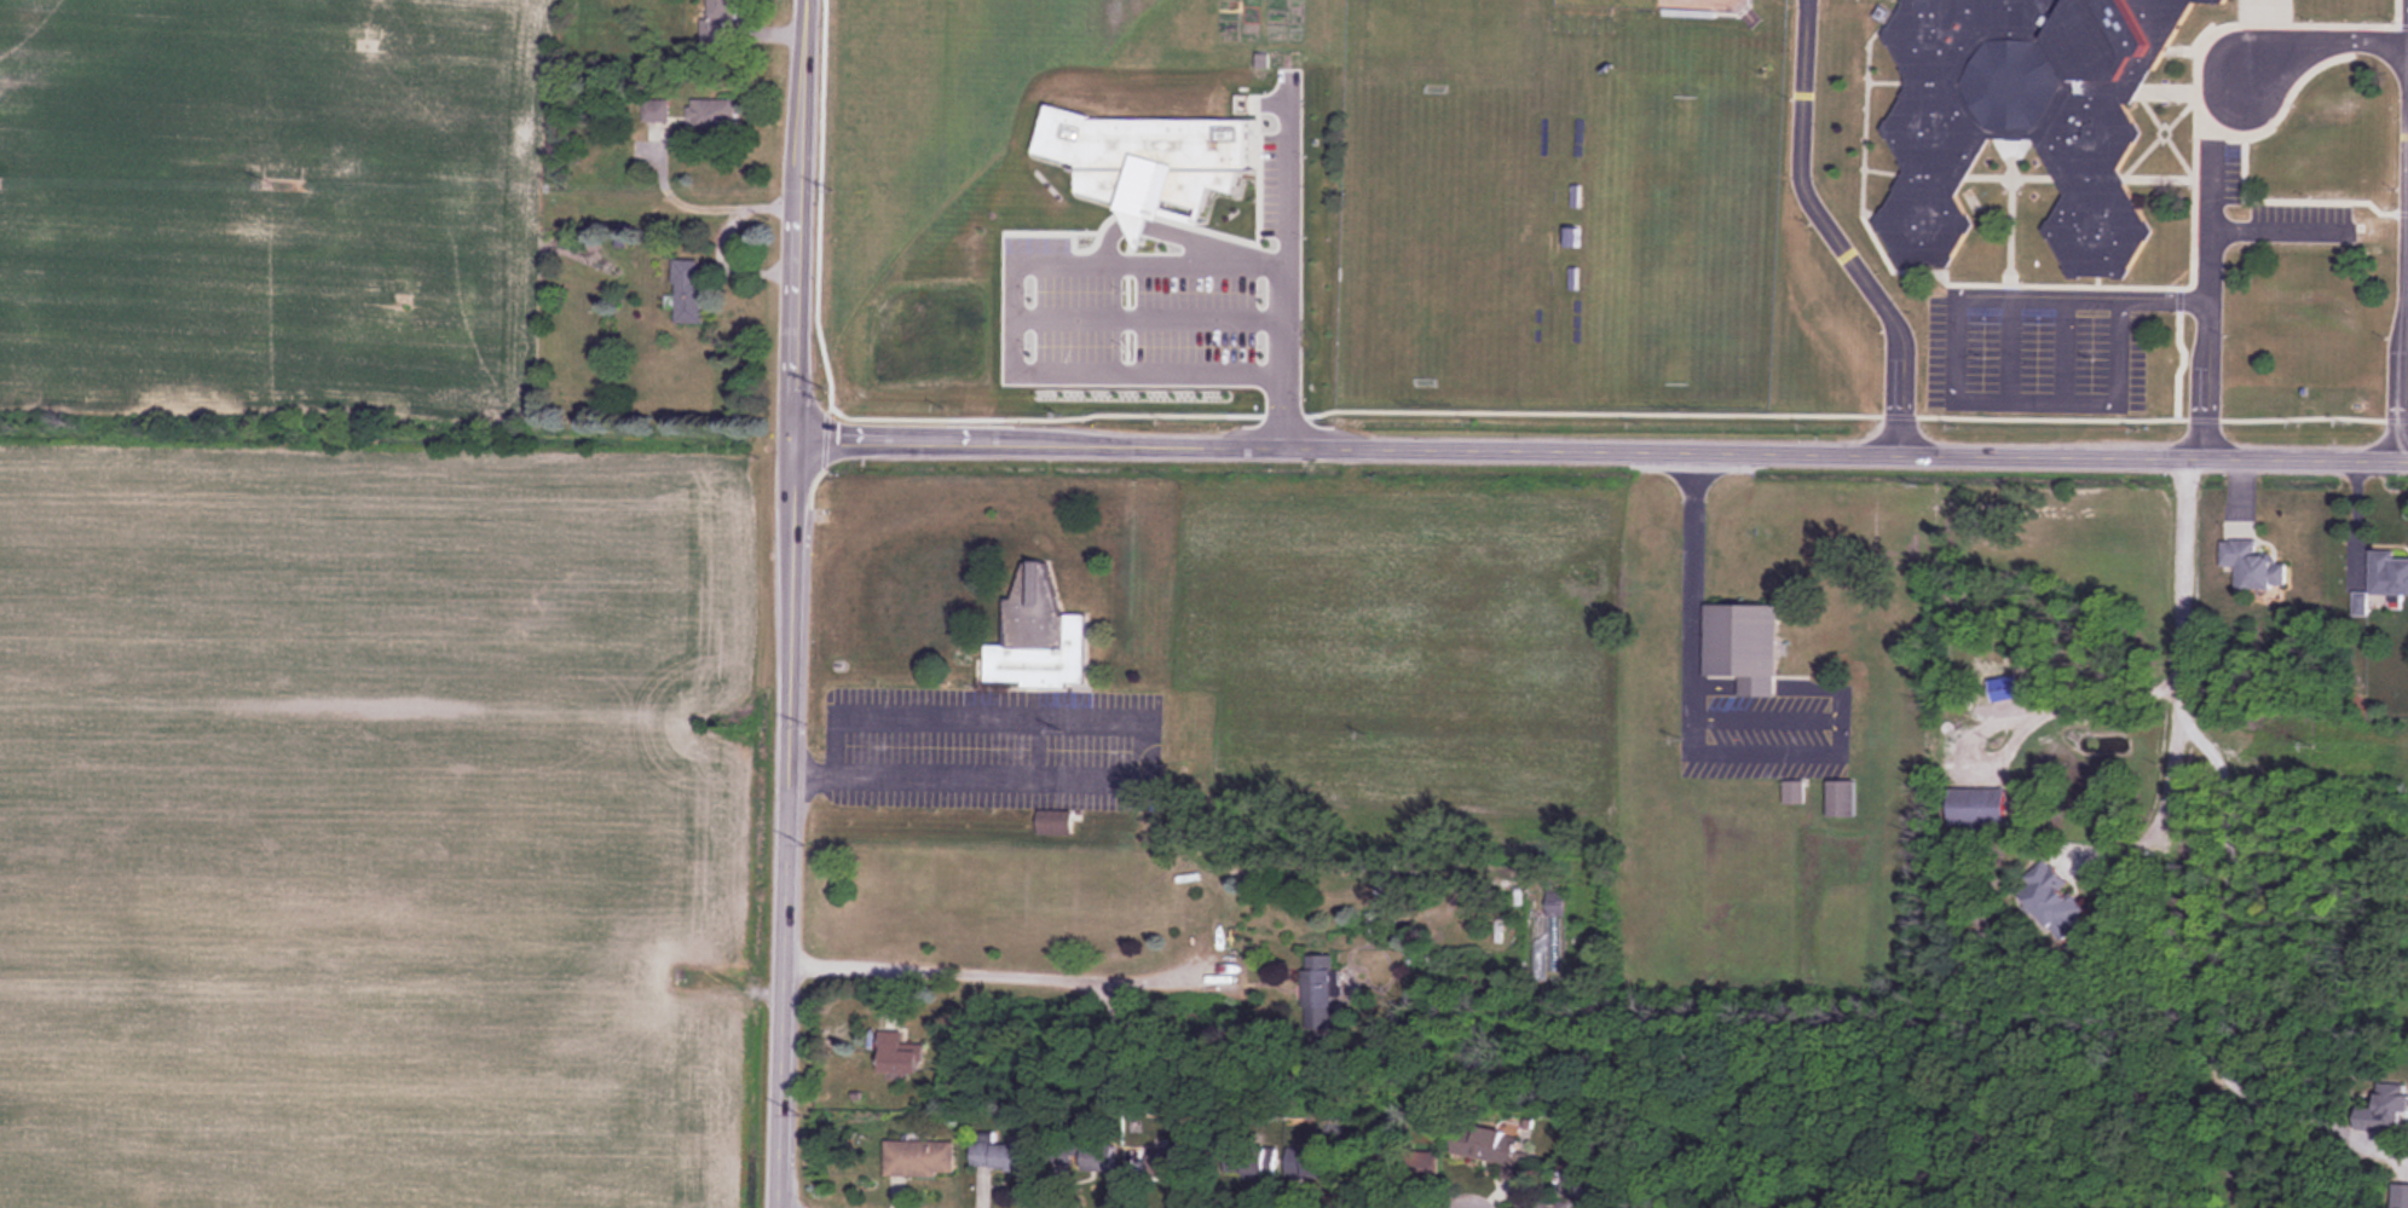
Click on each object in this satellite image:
road: (2325, 40)
building: (711, 112)
building: (2023, 116)
building: (1318, 180)
building: (1184, 204)
road: (798, 218)
road: (2407, 225)
road: (1830, 232)
road: (1138, 289)
building: (688, 290)
road: (2204, 299)
road: (2404, 320)
road: (1600, 447)
building: (2253, 566)
road: (1690, 573)
building: (2387, 574)
road: (2184, 626)
building: (1036, 635)
building: (1742, 647)
road: (929, 780)
building: (1841, 798)
building: (1977, 808)
road: (787, 822)
building: (1555, 900)
building: (2054, 901)
building: (1375, 925)
road: (1011, 965)
road: (2211, 970)
building: (1321, 993)
building: (899, 1052)
building: (2386, 1110)
building: (1484, 1143)
building: (997, 1154)
building: (918, 1158)
building: (1098, 1161)
building: (1058, 1162)
building: (1310, 1163)
building: (1170, 1164)
building: (1416, 1164)
building: (1259, 1166)
building: (1225, 1167)
building: (2401, 1196)

